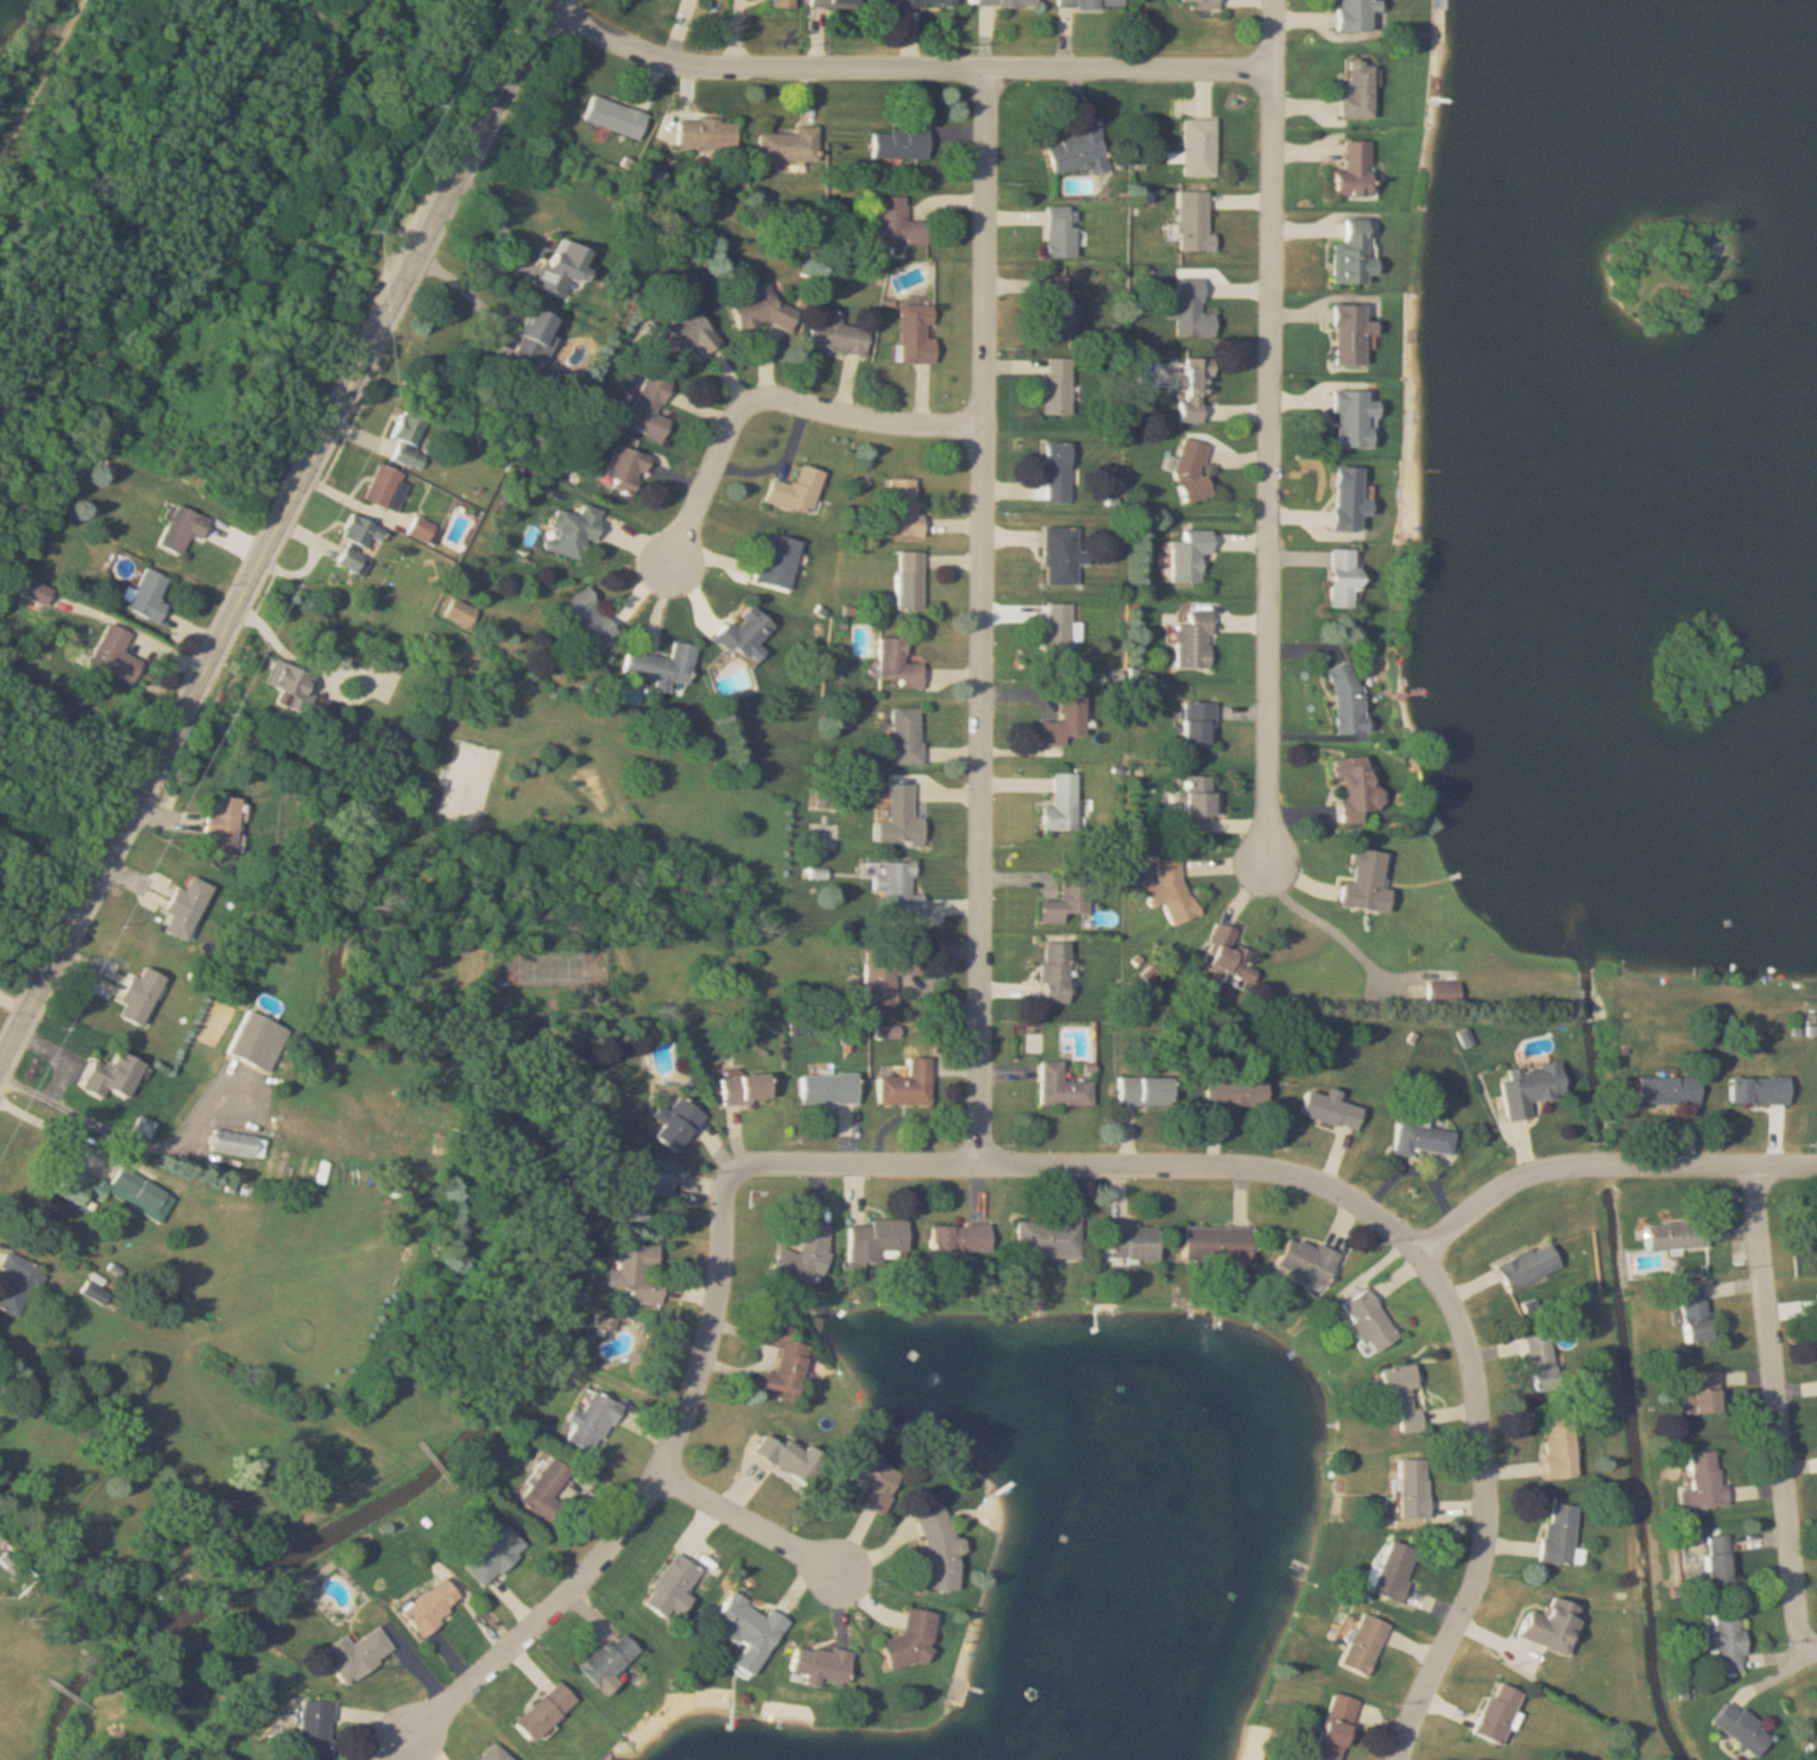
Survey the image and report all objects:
building: (786, 2)
building: (930, 2)
building: (1009, 2)
building: (838, 4)
building: (1092, 4)
building: (1200, 4)
road: (447, 11)
building: (1359, 14)
road: (44, 64)
road: (906, 68)
building: (1362, 90)
building: (618, 118)
building: (708, 133)
building: (902, 143)
building: (793, 145)
building: (1201, 147)
building: (1080, 153)
building: (1358, 172)
road: (367, 182)
building: (902, 223)
building: (1197, 223)
road: (153, 229)
building: (1062, 232)
building: (1356, 256)
building: (1062, 307)
building: (770, 311)
building: (1193, 311)
building: (688, 334)
building: (920, 334)
building: (841, 336)
building: (1346, 338)
building: (535, 340)
building: (1060, 387)
building: (1198, 390)
road: (757, 399)
building: (649, 410)
building: (1348, 420)
road: (1272, 422)
building: (410, 440)
building: (1188, 469)
building: (626, 472)
building: (1059, 473)
building: (387, 488)
building: (800, 492)
building: (1344, 499)
building: (908, 507)
building: (184, 530)
building: (575, 531)
road: (276, 534)
building: (361, 545)
building: (1184, 555)
building: (1061, 556)
building: (781, 562)
building: (1338, 578)
building: (913, 581)
building: (38, 593)
building: (150, 597)
building: (461, 614)
road: (986, 617)
building: (591, 620)
building: (1054, 633)
building: (749, 636)
road: (144, 637)
building: (1187, 642)
building: (115, 656)
building: (900, 665)
building: (664, 667)
building: (298, 693)
building: (1338, 698)
river: (59, 704)
building: (1061, 719)
building: (1193, 724)
building: (906, 737)
river: (164, 749)
building: (1348, 790)
building: (1056, 805)
building: (1192, 807)
building: (897, 818)
building: (223, 827)
road: (48, 847)
building: (1358, 881)
building: (892, 890)
building: (1166, 891)
building: (1061, 900)
road: (1325, 903)
building: (189, 909)
building: (1222, 954)
building: (883, 973)
building: (1051, 973)
building: (143, 997)
building: (254, 1037)
road: (58, 1056)
building: (902, 1085)
building: (1523, 1086)
building: (746, 1087)
building: (1056, 1087)
building: (1753, 1087)
building: (822, 1089)
building: (1664, 1089)
building: (1137, 1092)
building: (1230, 1092)
building: (1324, 1108)
building: (679, 1122)
building: (147, 1127)
road: (106, 1130)
building: (1417, 1137)
road: (75, 1138)
building: (239, 1143)
road: (1603, 1166)
building: (144, 1191)
building: (639, 1194)
river: (576, 1198)
road: (1351, 1199)
building: (1815, 1228)
building: (1671, 1235)
building: (953, 1238)
building: (1041, 1239)
building: (871, 1241)
building: (1125, 1241)
building: (1210, 1242)
building: (796, 1256)
building: (1299, 1260)
building: (1523, 1264)
building: (638, 1272)
building: (19, 1282)
building: (1689, 1311)
building: (1362, 1319)
building: (605, 1321)
building: (1538, 1361)
building: (786, 1364)
road: (1775, 1389)
building: (1698, 1392)
building: (1395, 1396)
building: (592, 1422)
building: (1554, 1447)
building: (793, 1459)
building: (1701, 1481)
building: (878, 1482)
building: (1408, 1488)
building: (547, 1491)
road: (643, 1493)
road: (743, 1519)
building: (1554, 1533)
building: (944, 1553)
building: (494, 1557)
building: (1704, 1557)
building: (1388, 1571)
building: (673, 1588)
building: (433, 1606)
building: (1545, 1625)
building: (750, 1630)
road: (1805, 1632)
building: (915, 1638)
building: (1722, 1641)
building: (1358, 1644)
building: (358, 1654)
building: (610, 1659)
building: (820, 1664)
road: (75, 1697)
building: (547, 1711)
building: (1493, 1712)
building: (315, 1727)
building: (1329, 1727)
building: (1737, 1727)
building: (496, 1754)

